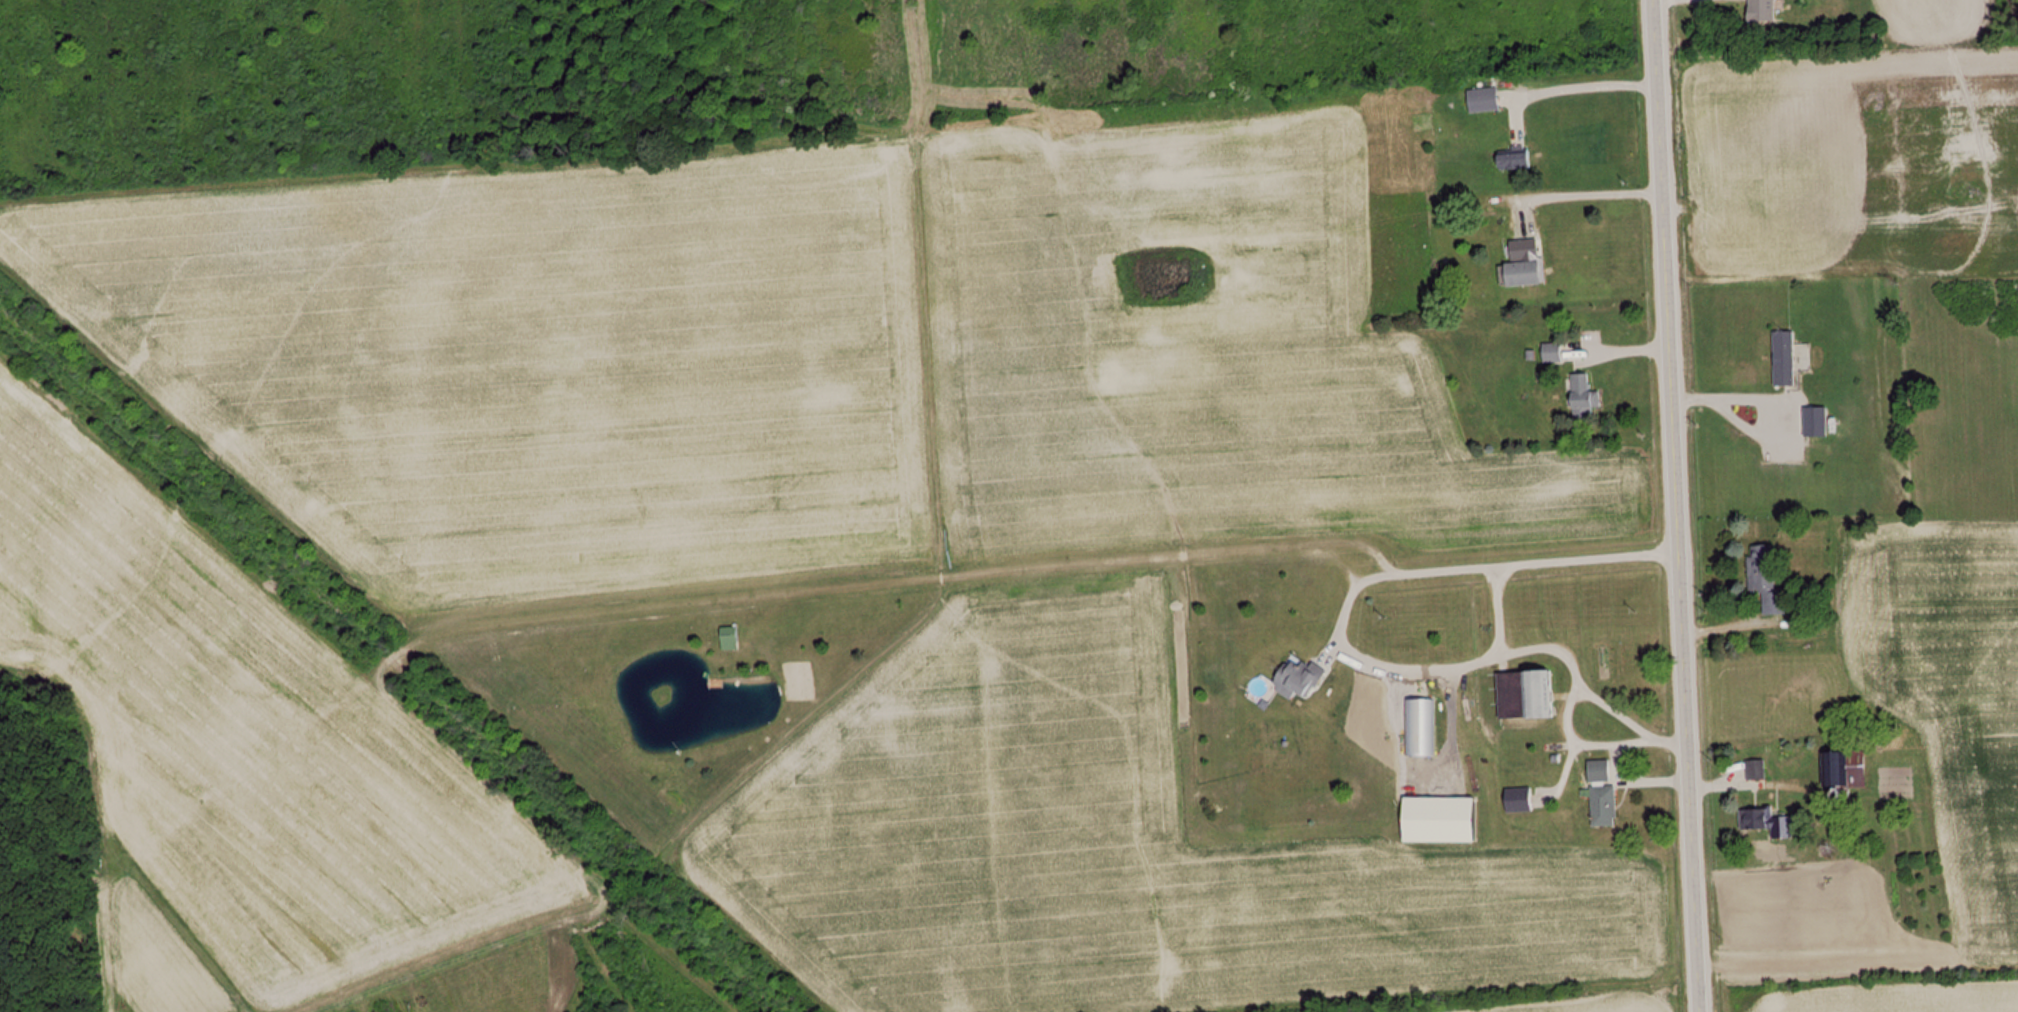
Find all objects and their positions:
building: (1760, 10)
building: (1482, 100)
building: (1512, 160)
building: (1523, 268)
building: (1551, 354)
building: (1783, 358)
building: (1582, 398)
building: (1815, 422)
road: (1674, 506)
road: (1375, 571)
building: (1763, 580)
road: (1490, 607)
building: (728, 638)
road: (1566, 668)
building: (1297, 679)
building: (1523, 695)
building: (1419, 728)
road: (1629, 738)
road: (1605, 750)
building: (1755, 771)
building: (1842, 771)
building: (1597, 772)
building: (1517, 800)
building: (1602, 807)
building: (1765, 824)

